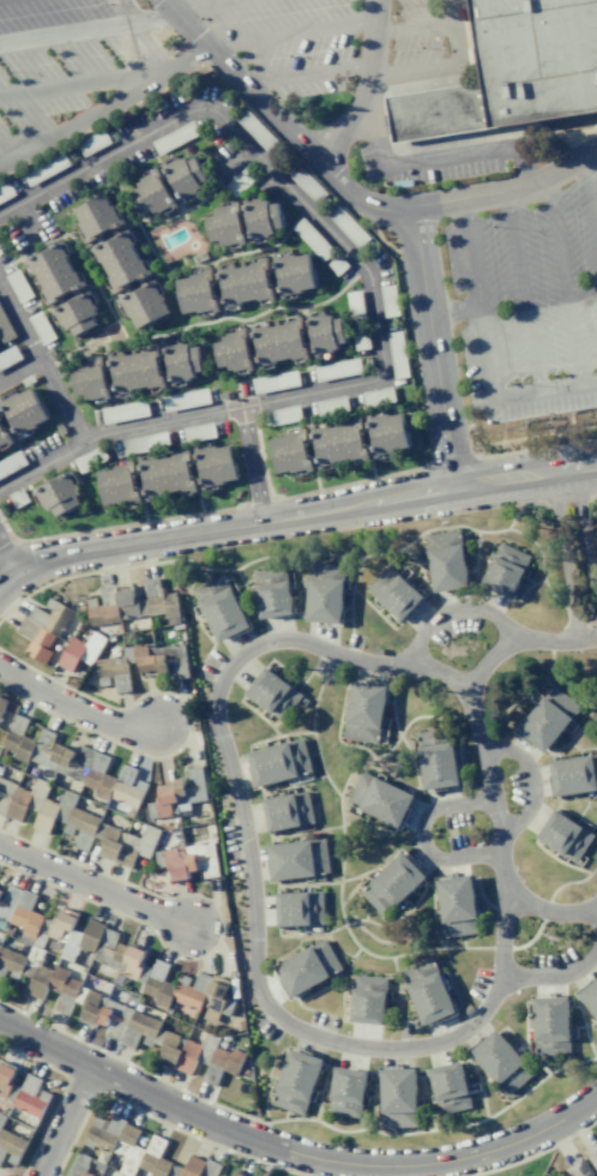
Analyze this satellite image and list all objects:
road: (204, 4)
road: (451, 12)
road: (88, 30)
road: (288, 34)
parking lot: (287, 40)
road: (453, 49)
parking lot: (68, 55)
building: (513, 71)
road: (303, 74)
road: (78, 86)
road: (364, 86)
road: (102, 106)
building: (257, 130)
building: (174, 137)
building: (92, 142)
road: (20, 144)
road: (429, 161)
building: (44, 168)
building: (185, 175)
building: (304, 181)
road: (507, 190)
road: (591, 190)
building: (6, 191)
building: (152, 193)
road: (385, 208)
building: (96, 217)
building: (259, 217)
road: (28, 223)
building: (224, 226)
building: (348, 227)
building: (312, 239)
building: (119, 260)
building: (336, 264)
building: (54, 271)
building: (293, 274)
road: (565, 280)
building: (245, 283)
building: (18, 284)
road: (369, 292)
road: (521, 292)
building: (197, 293)
building: (388, 300)
building: (143, 304)
parking lot: (526, 305)
building: (76, 313)
road: (451, 313)
building: (356, 320)
building: (41, 328)
building: (5, 329)
building: (326, 332)
building: (278, 341)
building: (230, 350)
road: (483, 350)
building: (397, 353)
building: (8, 356)
building: (182, 361)
road: (41, 365)
road: (19, 370)
building: (134, 370)
building: (337, 370)
building: (86, 379)
building: (275, 382)
building: (376, 396)
building: (186, 400)
building: (331, 404)
building: (23, 412)
building: (123, 412)
building: (283, 415)
building: (198, 432)
building: (386, 433)
building: (4, 434)
building: (144, 443)
building: (338, 443)
building: (290, 452)
building: (89, 460)
building: (11, 463)
road: (251, 464)
building: (213, 466)
building: (165, 474)
road: (525, 475)
building: (119, 484)
building: (58, 493)
building: (18, 498)
road: (224, 528)
road: (585, 536)
road: (565, 554)
road: (7, 557)
building: (446, 560)
building: (503, 570)
building: (272, 593)
building: (324, 593)
building: (393, 593)
building: (132, 602)
building: (219, 607)
building: (43, 629)
road: (574, 638)
building: (80, 652)
building: (149, 661)
building: (177, 667)
building: (113, 673)
road: (442, 673)
building: (273, 694)
building: (1, 704)
road: (76, 710)
building: (364, 712)
building: (548, 718)
building: (18, 739)
road: (483, 752)
building: (62, 755)
building: (436, 758)
building: (278, 762)
building: (95, 773)
building: (573, 775)
road: (532, 780)
building: (180, 793)
building: (379, 798)
building: (28, 803)
building: (287, 810)
building: (80, 822)
road: (241, 828)
road: (421, 834)
building: (565, 835)
building: (110, 844)
building: (133, 850)
building: (297, 859)
building: (179, 863)
building: (391, 883)
road: (94, 887)
building: (457, 906)
building: (298, 908)
building: (19, 910)
road: (548, 911)
road: (595, 916)
building: (61, 923)
building: (91, 936)
building: (108, 937)
building: (12, 960)
building: (127, 960)
building: (307, 967)
road: (555, 977)
building: (52, 982)
building: (157, 984)
building: (427, 991)
building: (201, 995)
building: (590, 996)
building: (367, 1000)
building: (94, 1009)
building: (550, 1026)
building: (144, 1033)
building: (187, 1055)
building: (227, 1060)
building: (501, 1063)
building: (5, 1078)
building: (296, 1081)
building: (450, 1088)
building: (346, 1092)
building: (28, 1096)
building: (398, 1098)
building: (1, 1118)
road: (65, 1121)
building: (111, 1133)
building: (10, 1146)
road: (293, 1152)
building: (592, 1154)
road: (261, 1158)
building: (146, 1159)
park: (525, 1166)
building: (187, 1168)
building: (579, 1168)
building: (211, 1169)
park: (278, 1172)
building: (236, 1174)

